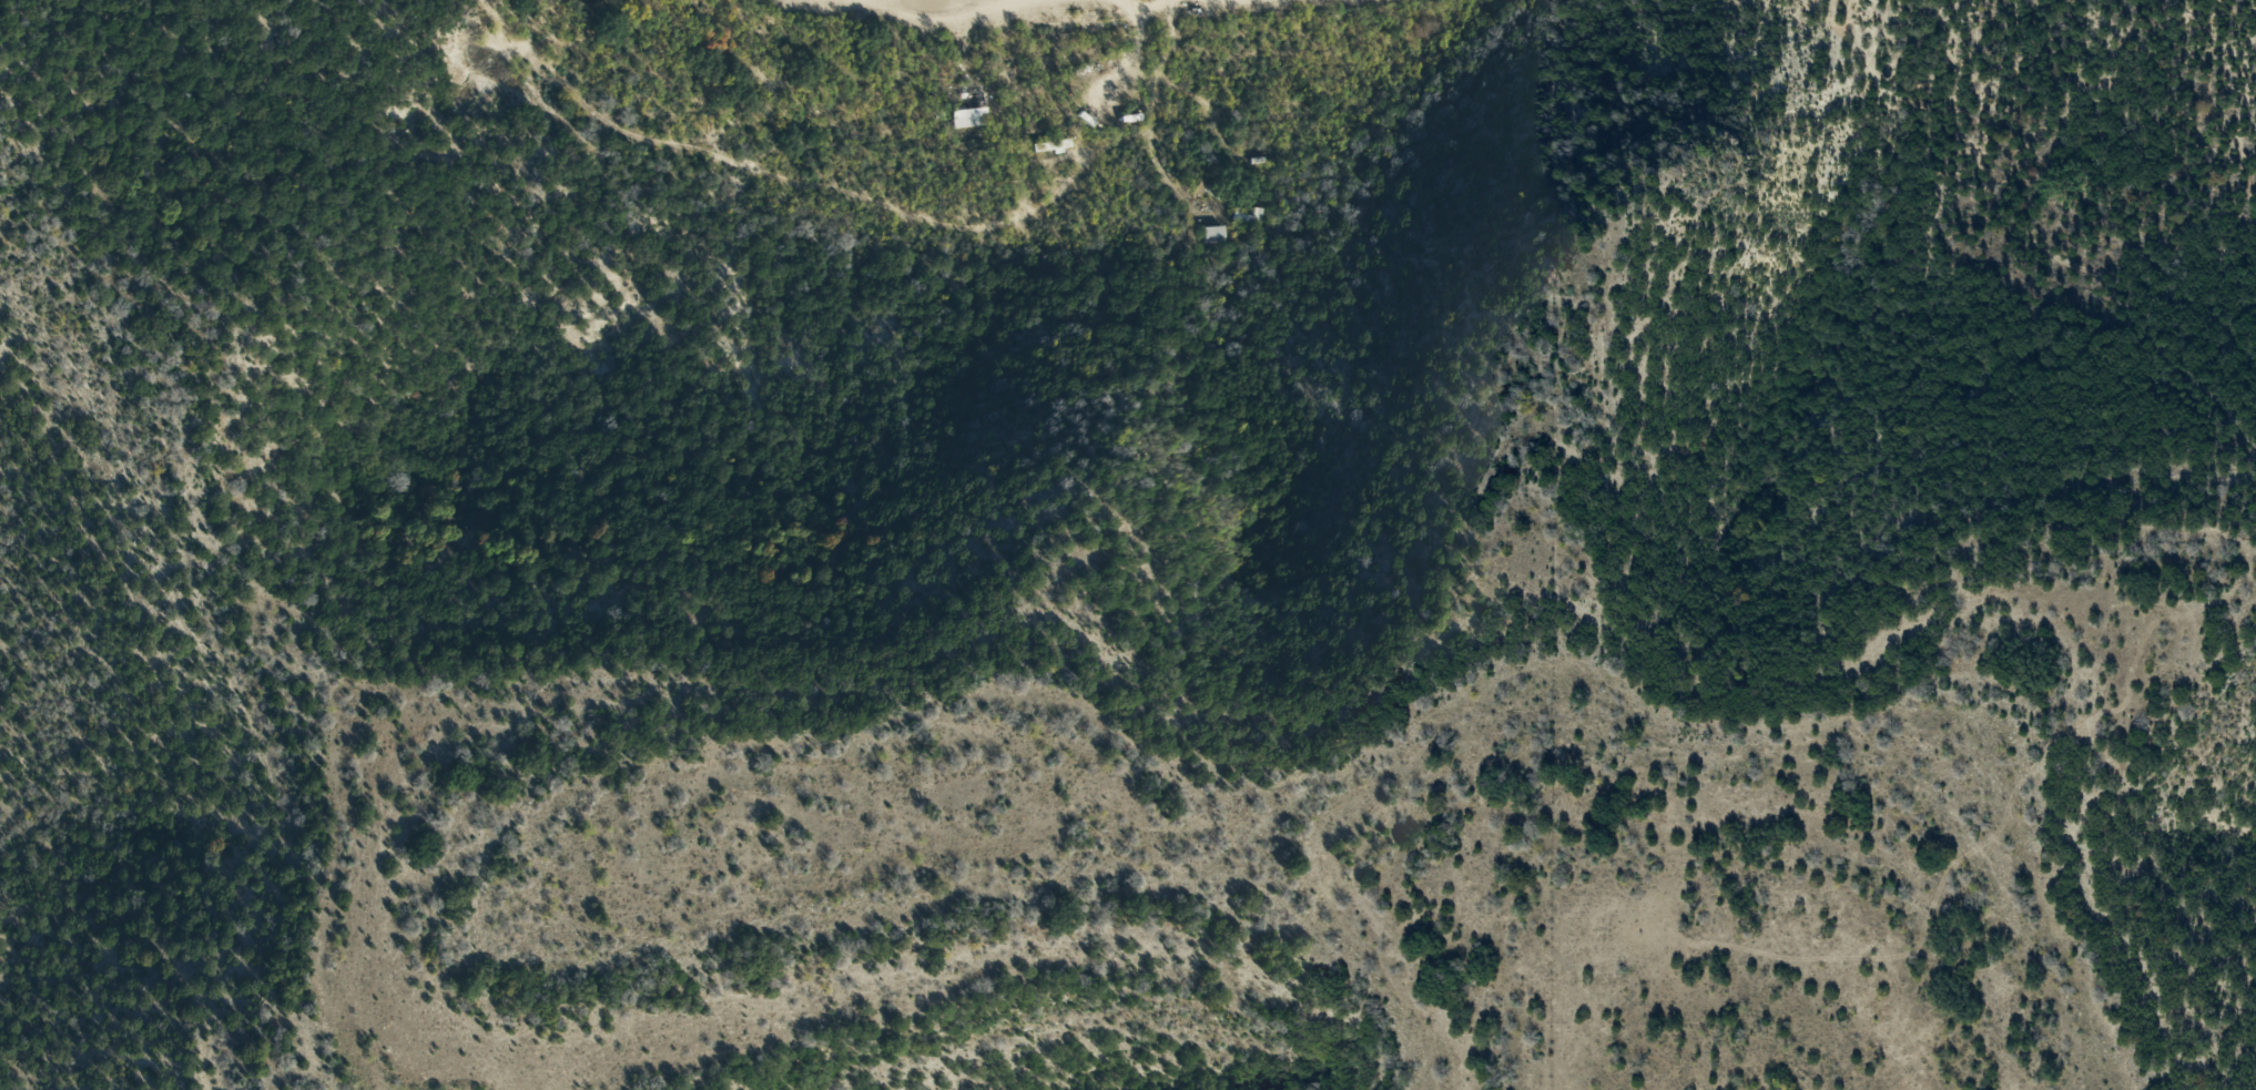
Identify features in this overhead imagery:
road: (1147, 99)
building: (964, 116)
building: (1243, 214)
building: (1209, 235)

